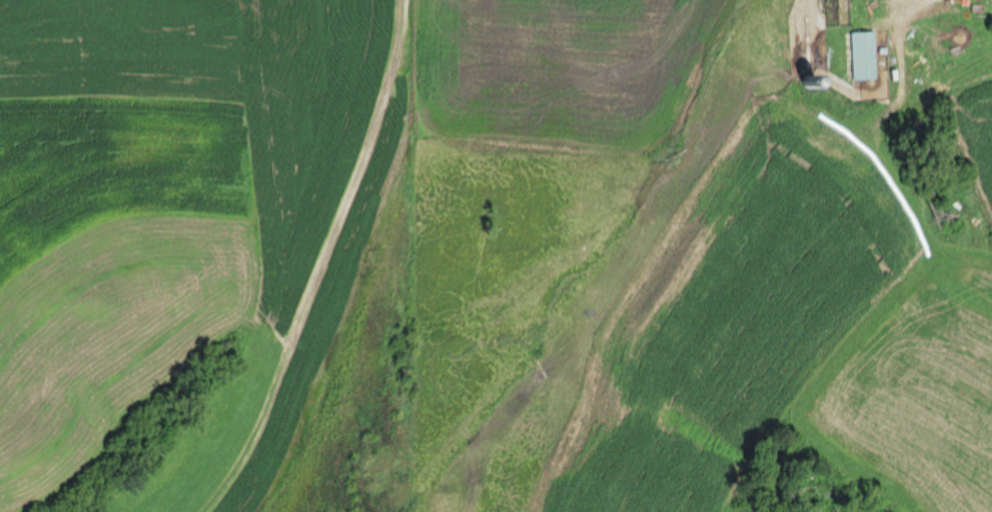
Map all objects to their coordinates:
road: (895, 2)
building: (860, 55)

